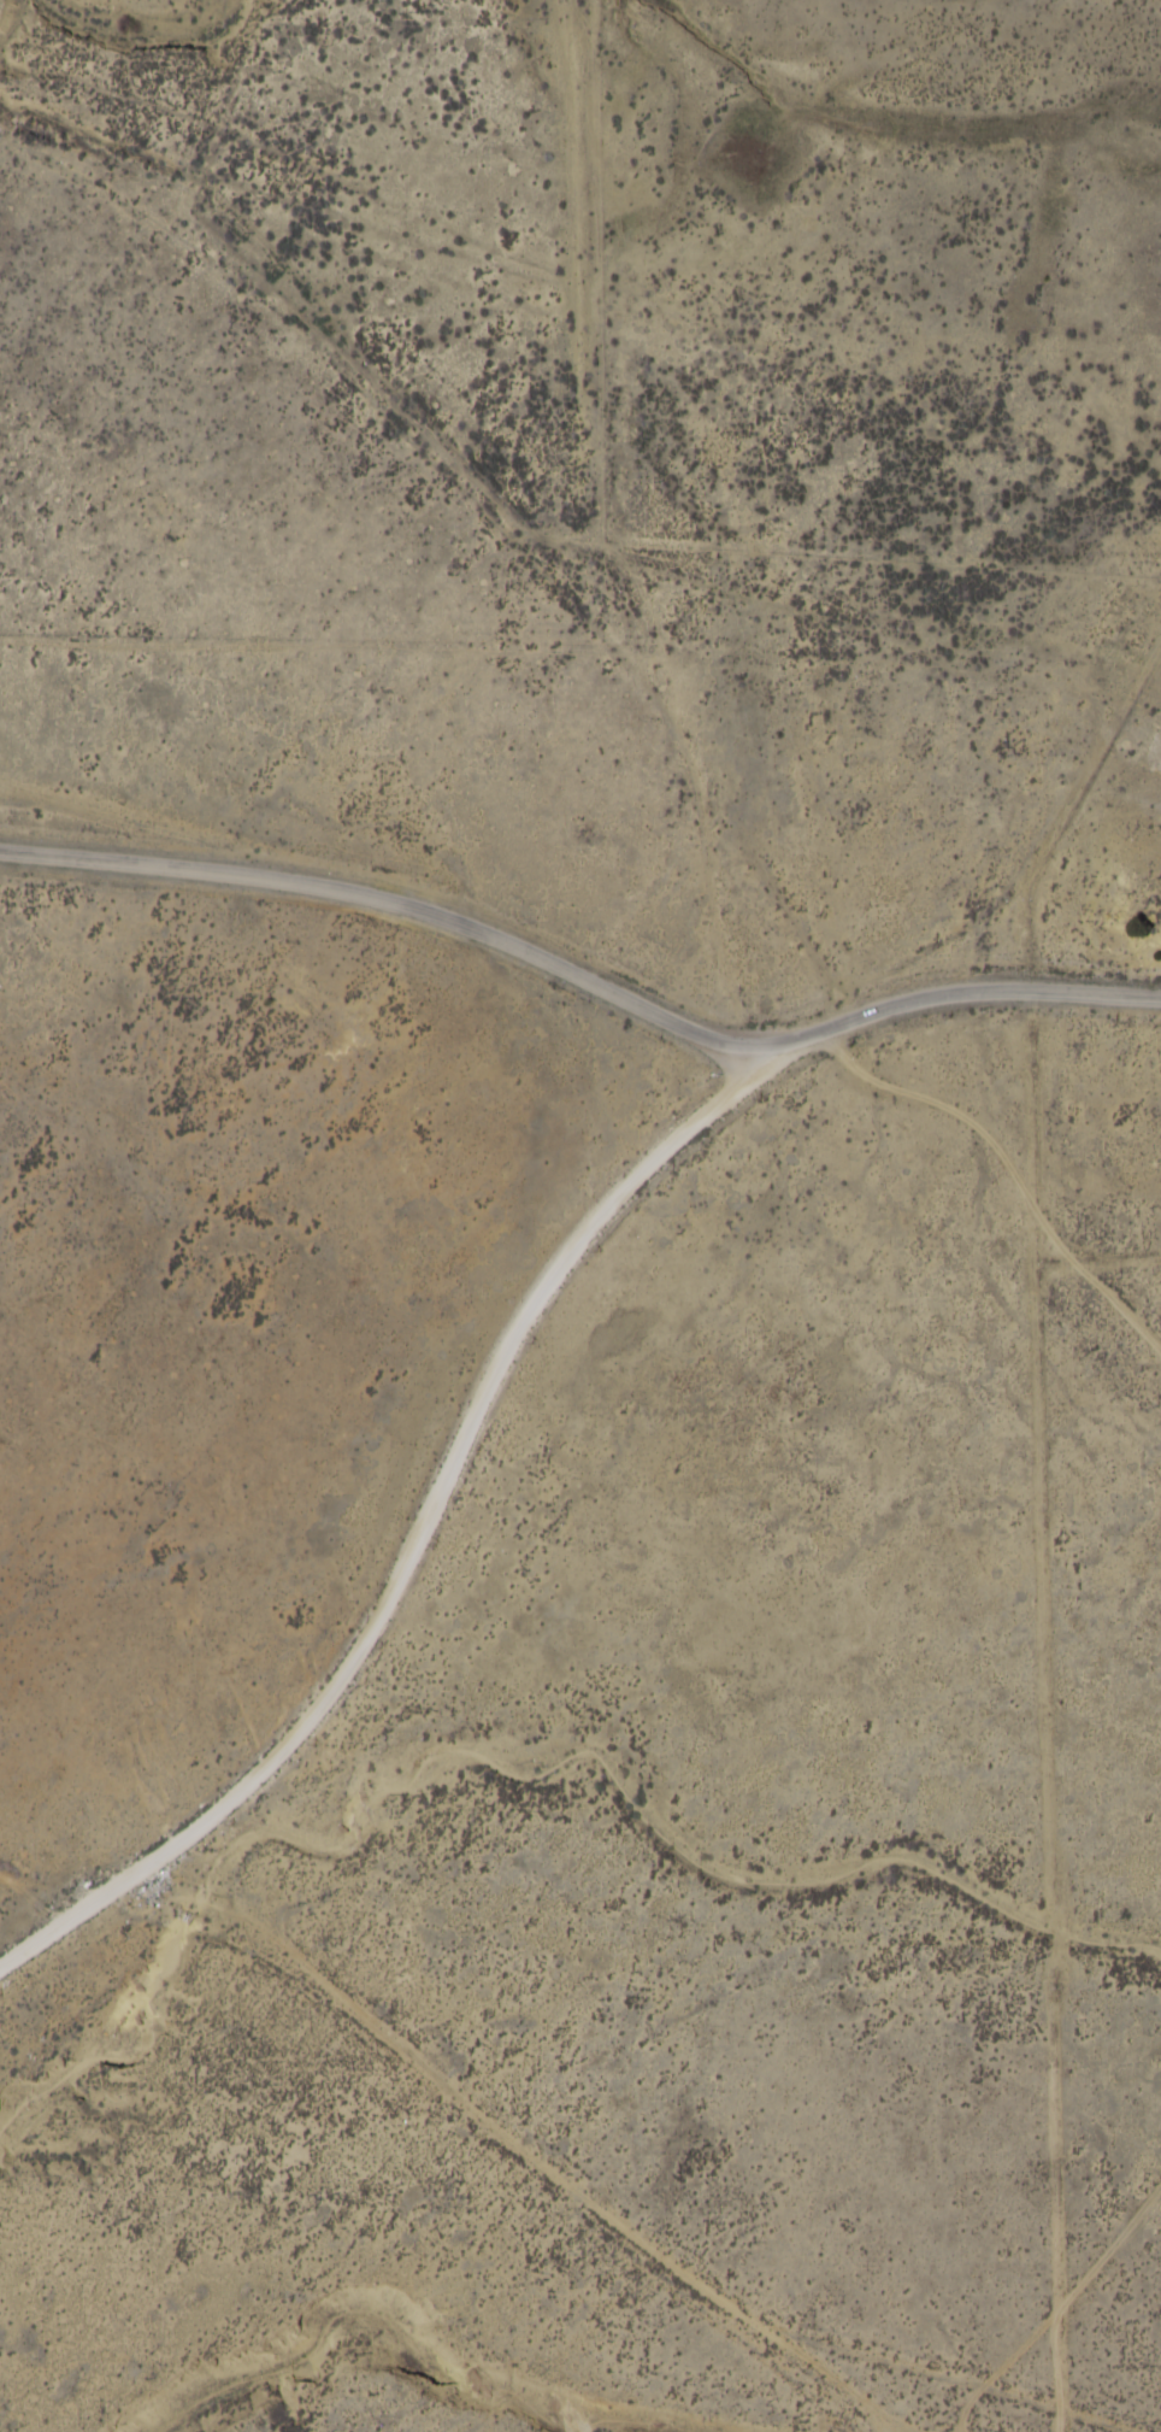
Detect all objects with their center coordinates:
road: (537, 417)
road: (564, 691)
road: (580, 979)
road: (424, 1515)
road: (49, 1882)
road: (588, 2230)
road: (826, 2375)
road: (888, 2418)

